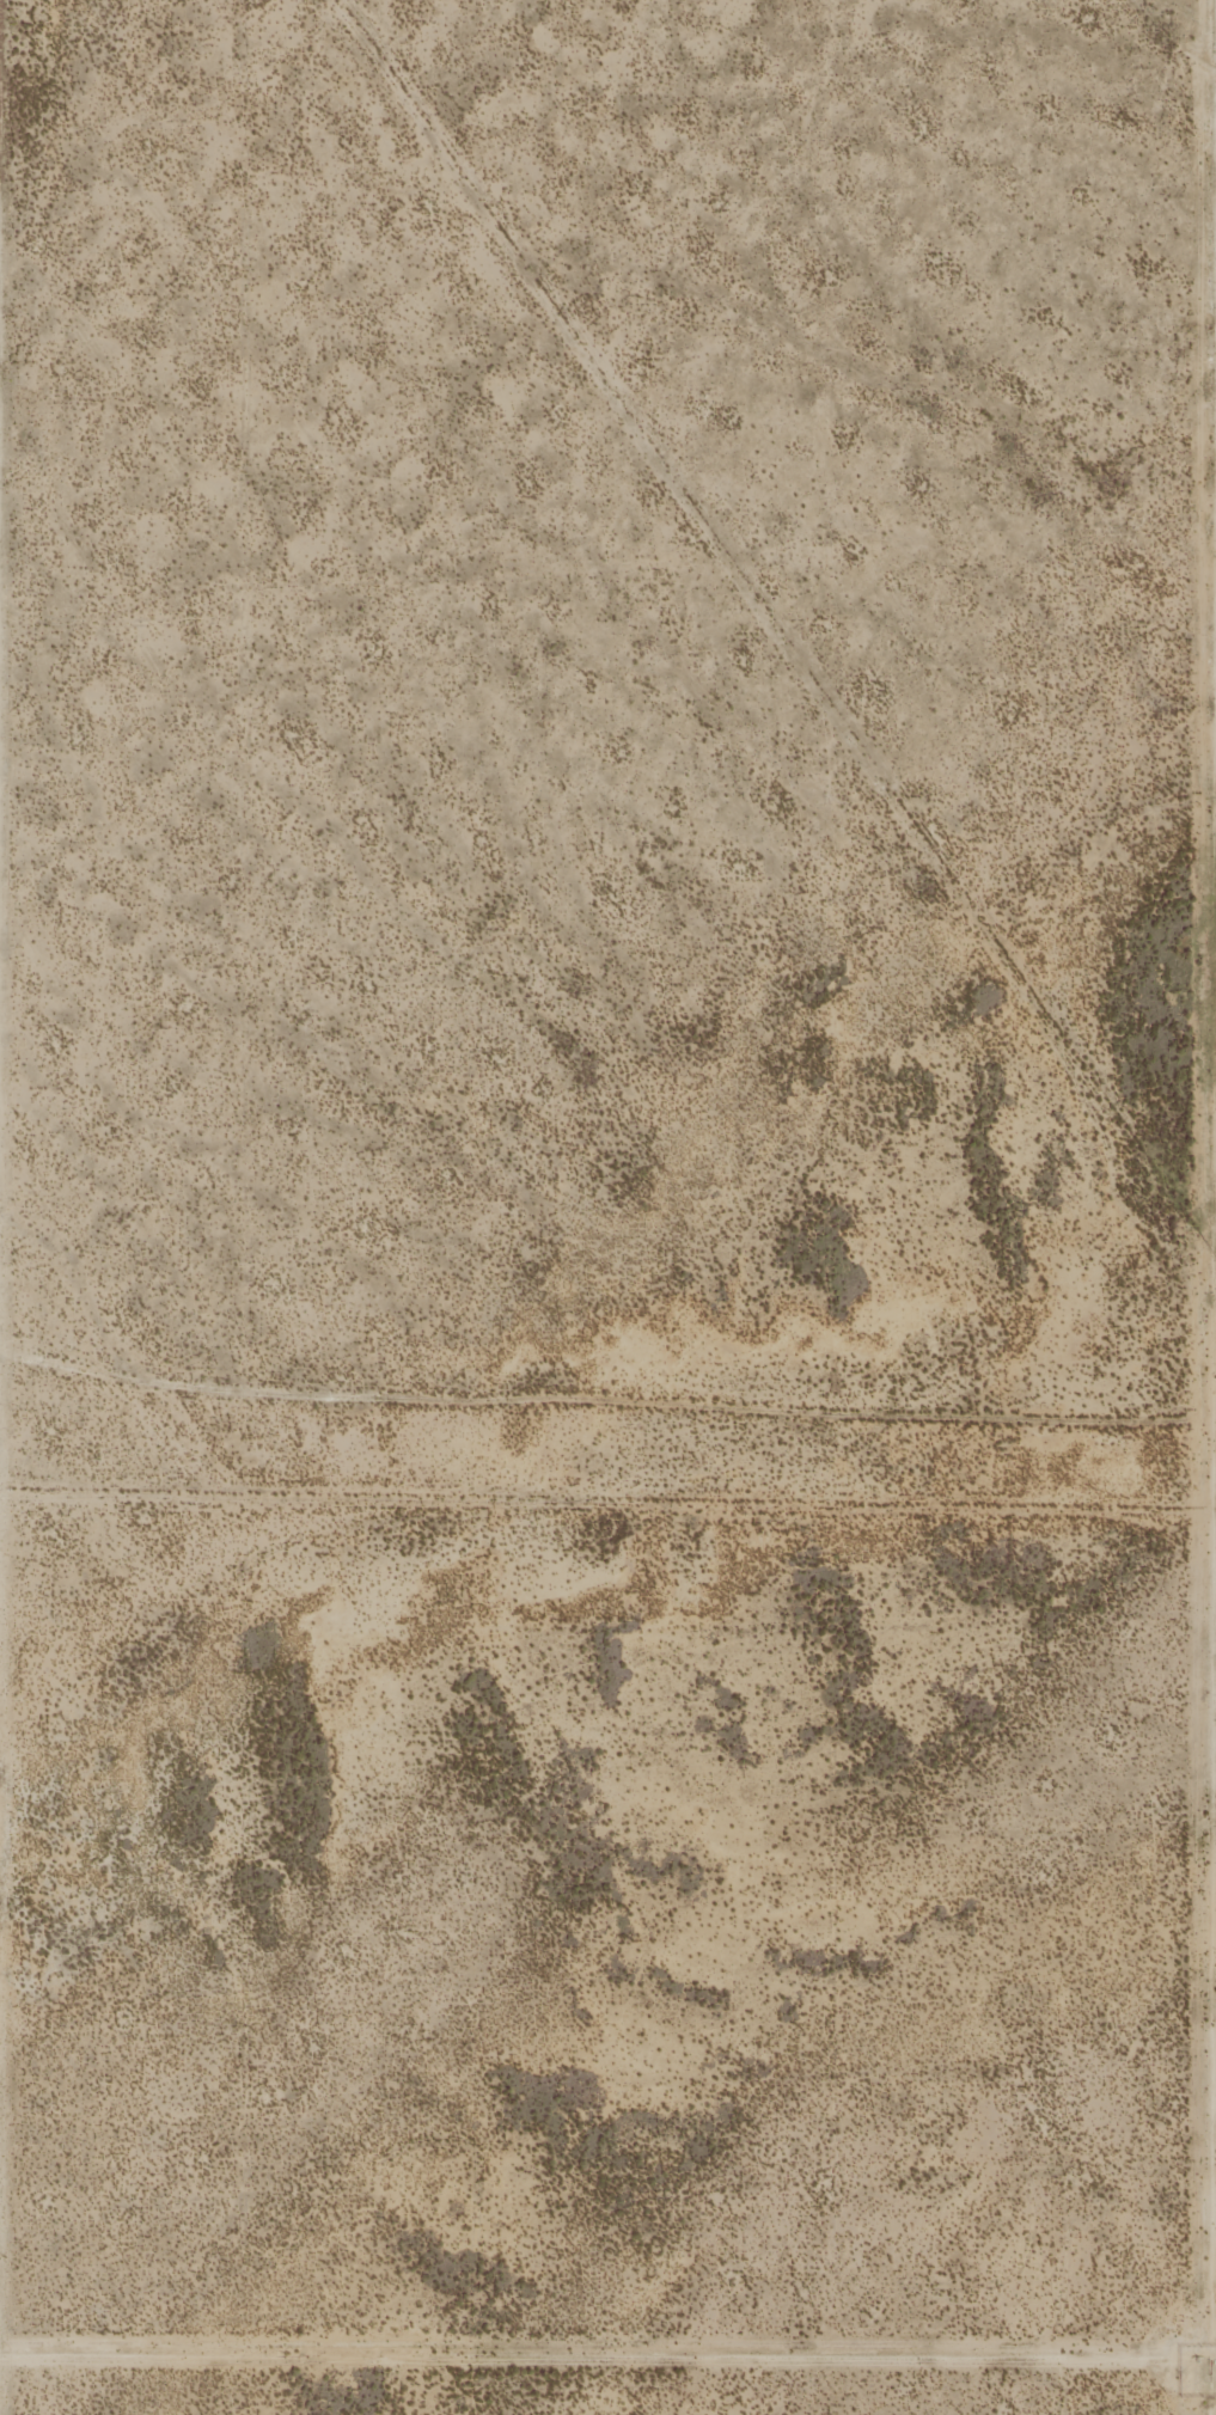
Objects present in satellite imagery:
road: (607, 1359)

